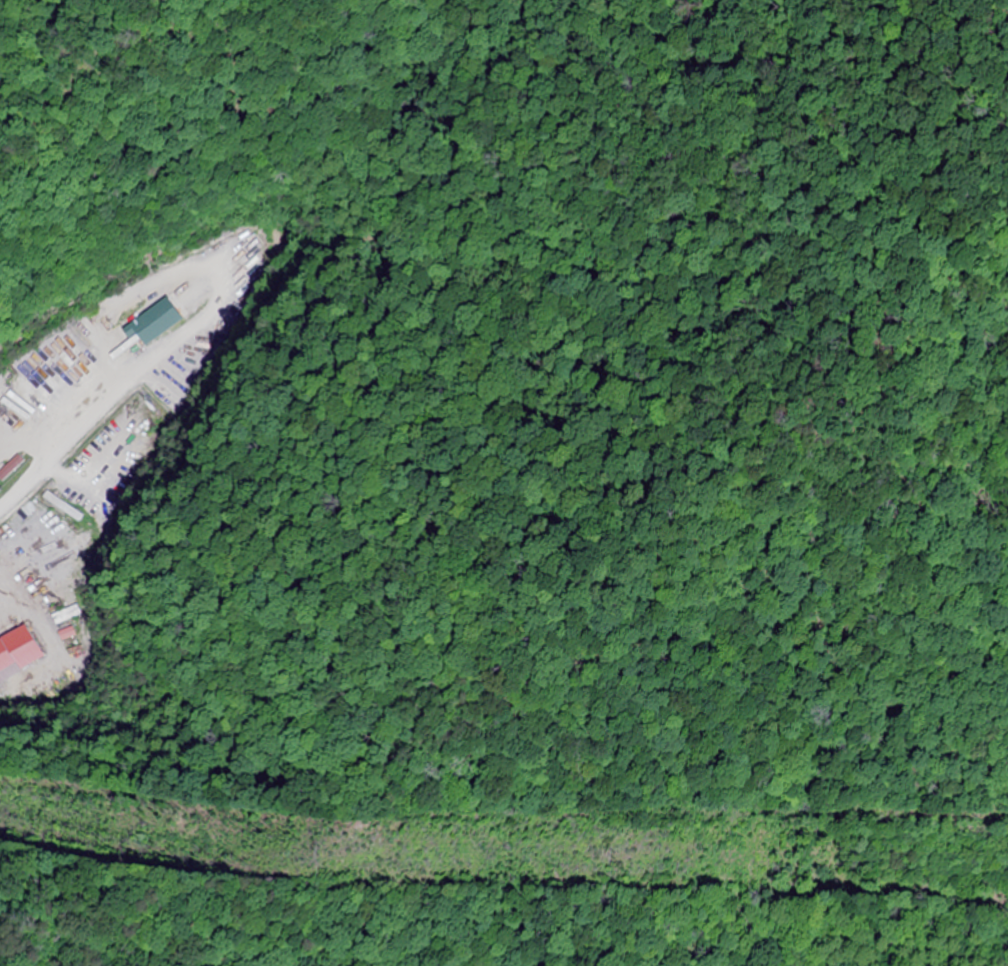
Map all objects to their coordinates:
building: (162, 321)
building: (14, 404)
building: (16, 467)
road: (19, 548)
building: (65, 615)
building: (21, 653)

